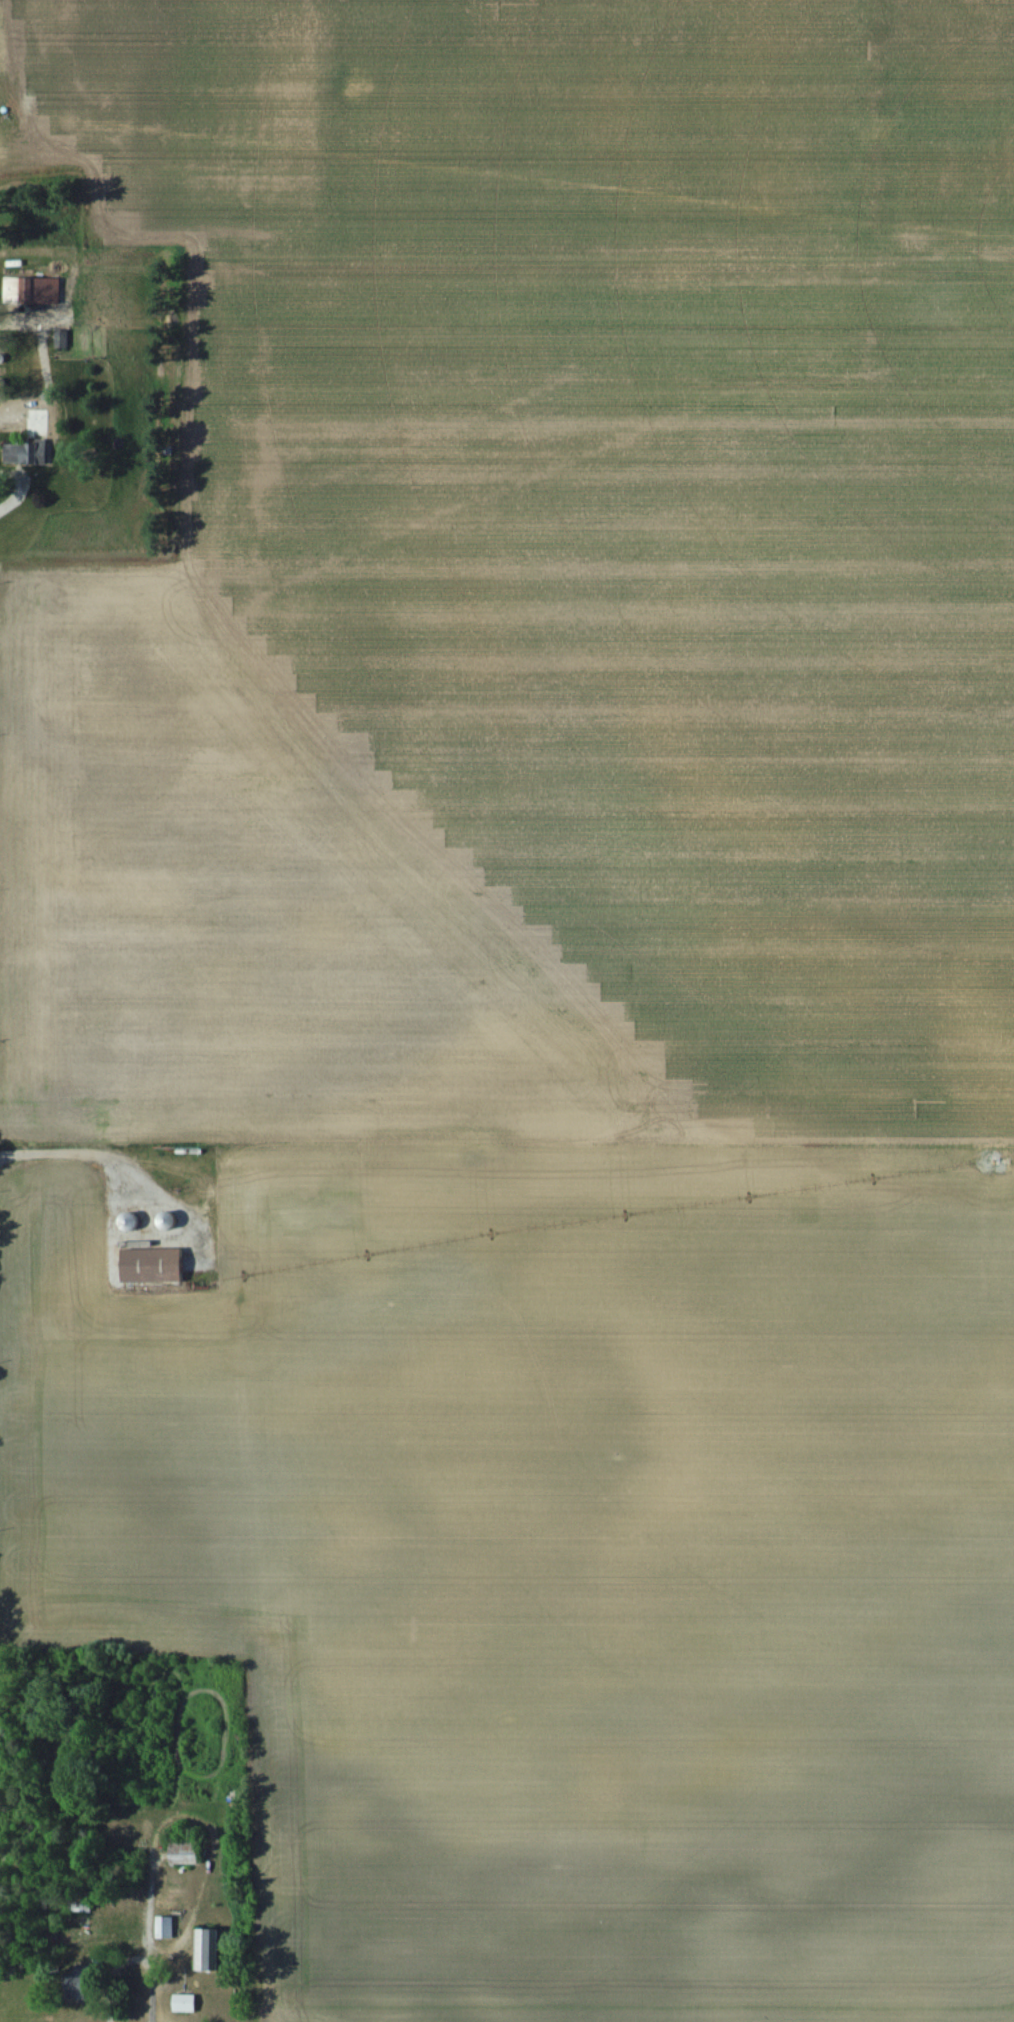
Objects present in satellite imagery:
building: (14, 289)
building: (51, 290)
road: (55, 442)
building: (26, 453)
building: (171, 1219)
building: (132, 1220)
building: (158, 1264)
building: (185, 1849)
building: (164, 1927)
building: (208, 1949)
building: (185, 2003)

